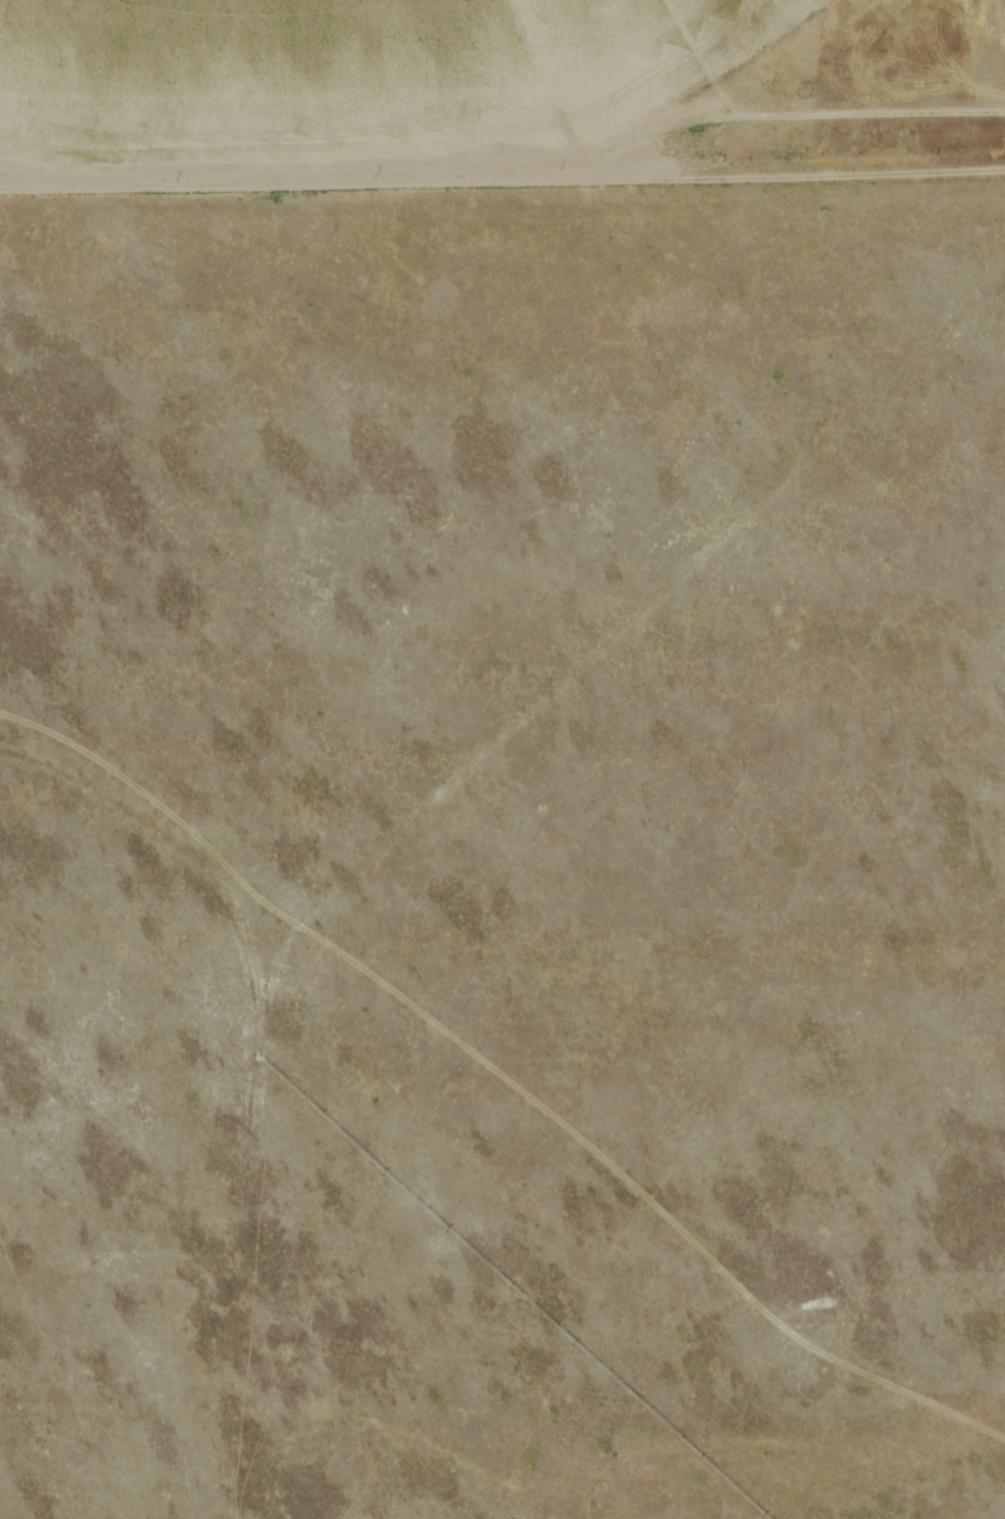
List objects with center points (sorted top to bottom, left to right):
crop: (343, 68)

